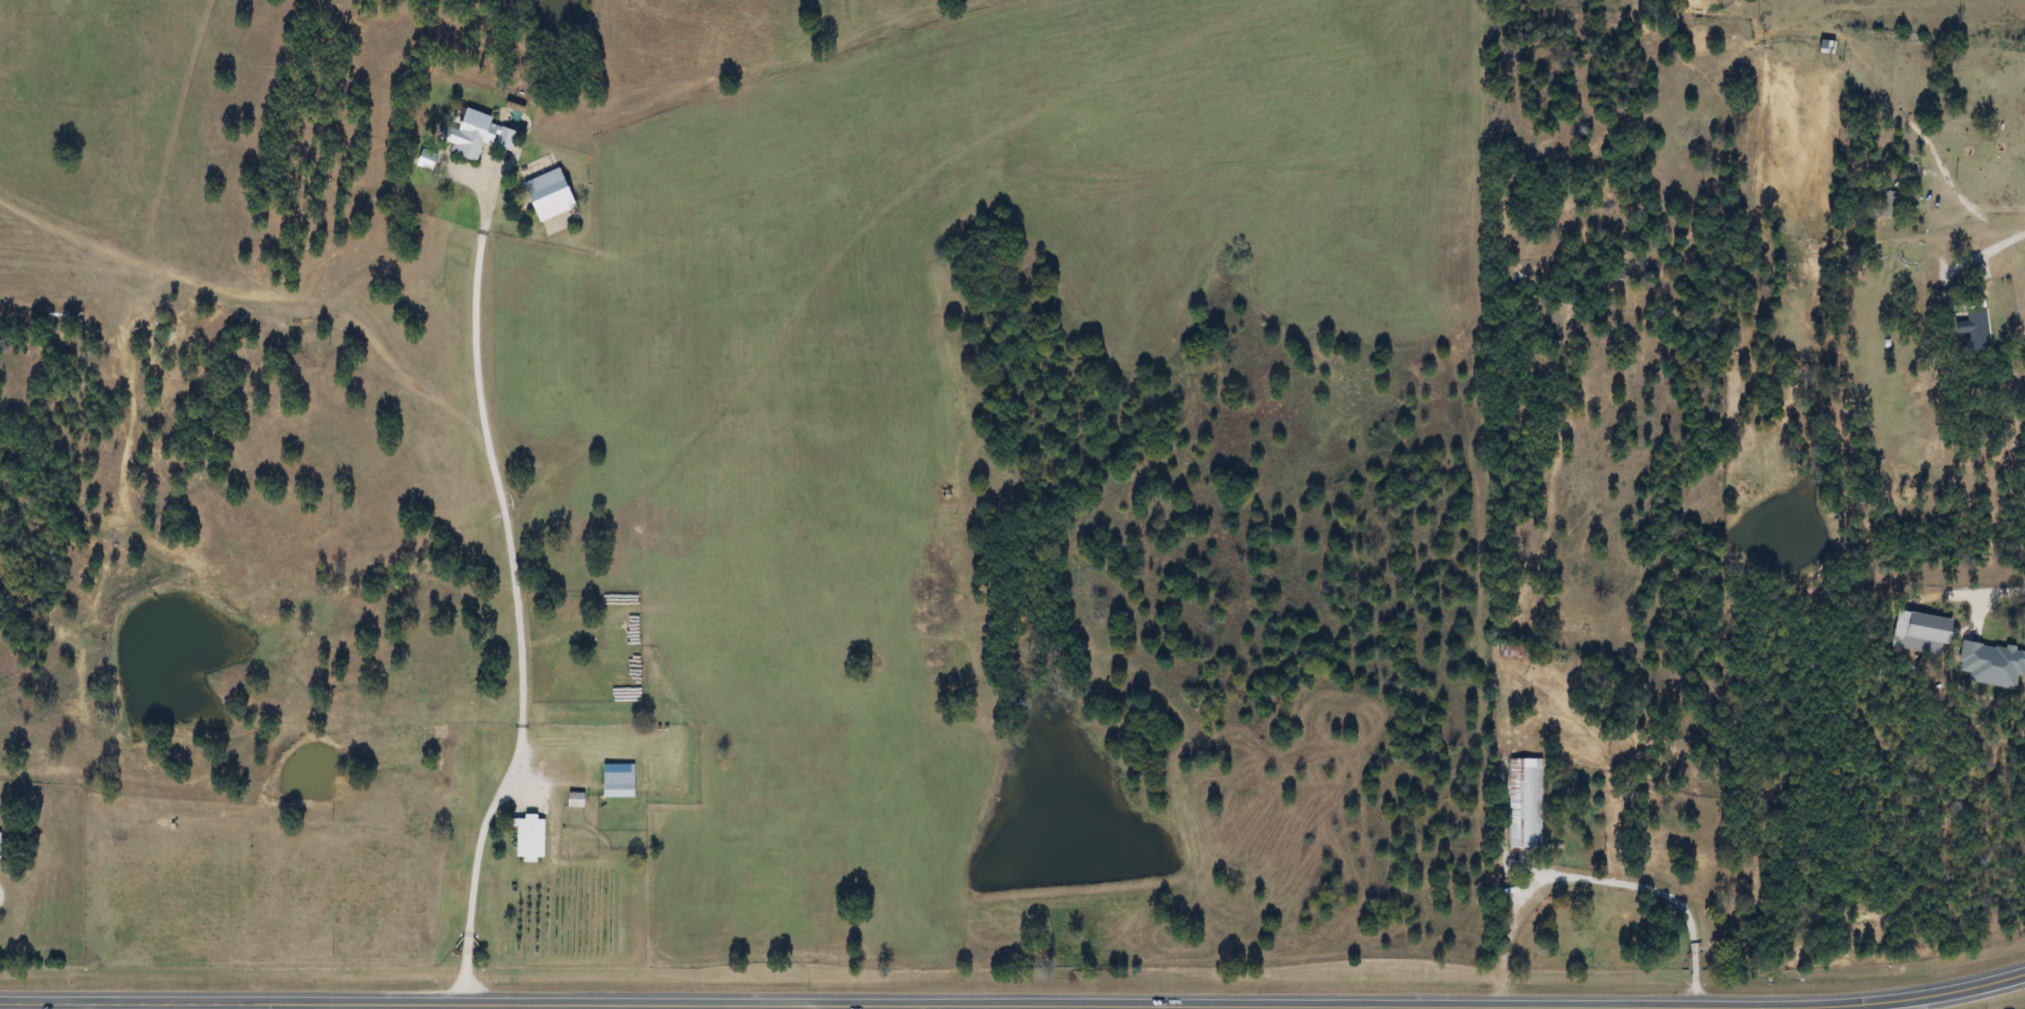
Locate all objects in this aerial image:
building: (470, 133)
road: (1934, 157)
building: (425, 158)
building: (1889, 204)
road: (1980, 253)
building: (1977, 330)
road: (481, 500)
building: (1961, 645)
building: (1510, 648)
building: (617, 779)
building: (1524, 802)
building: (528, 837)
road: (1597, 879)
road: (2, 895)
road: (1957, 993)
road: (673, 1003)
road: (89, 1005)
road: (816, 1007)
road: (1271, 1008)

